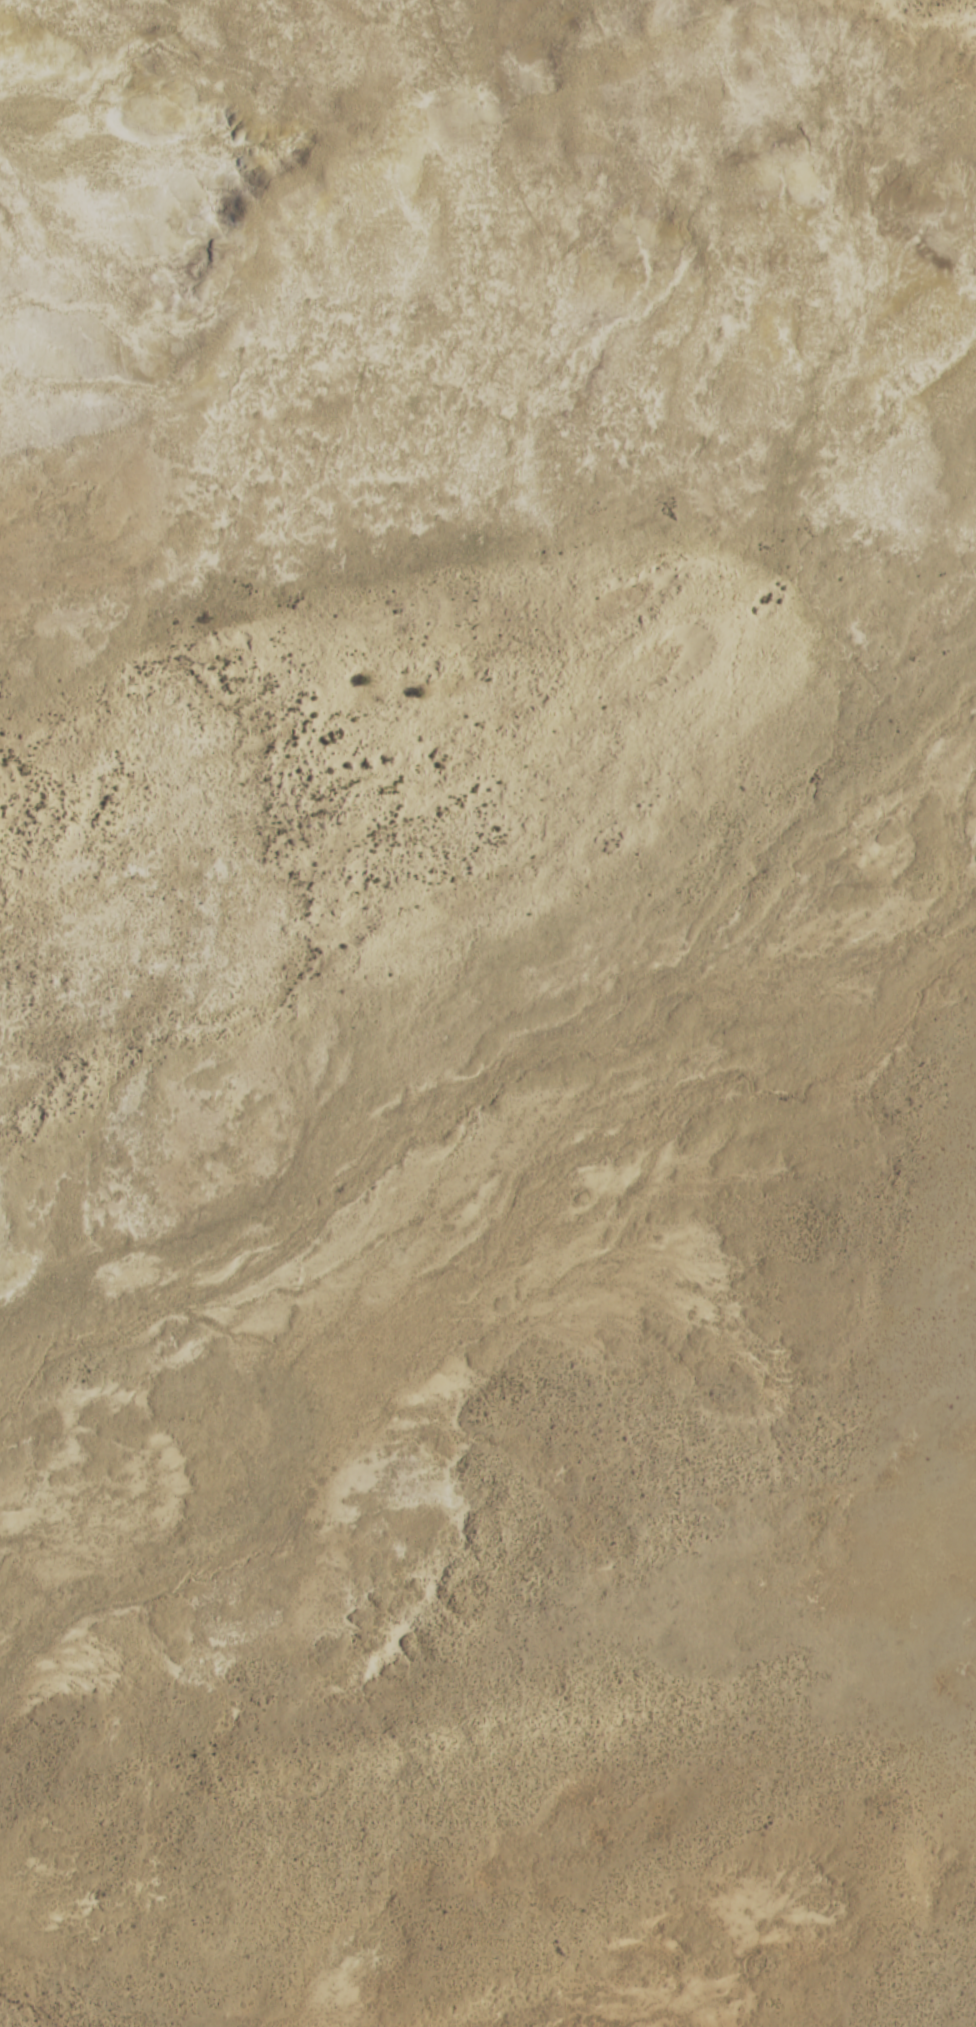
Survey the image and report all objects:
road: (840, 249)

